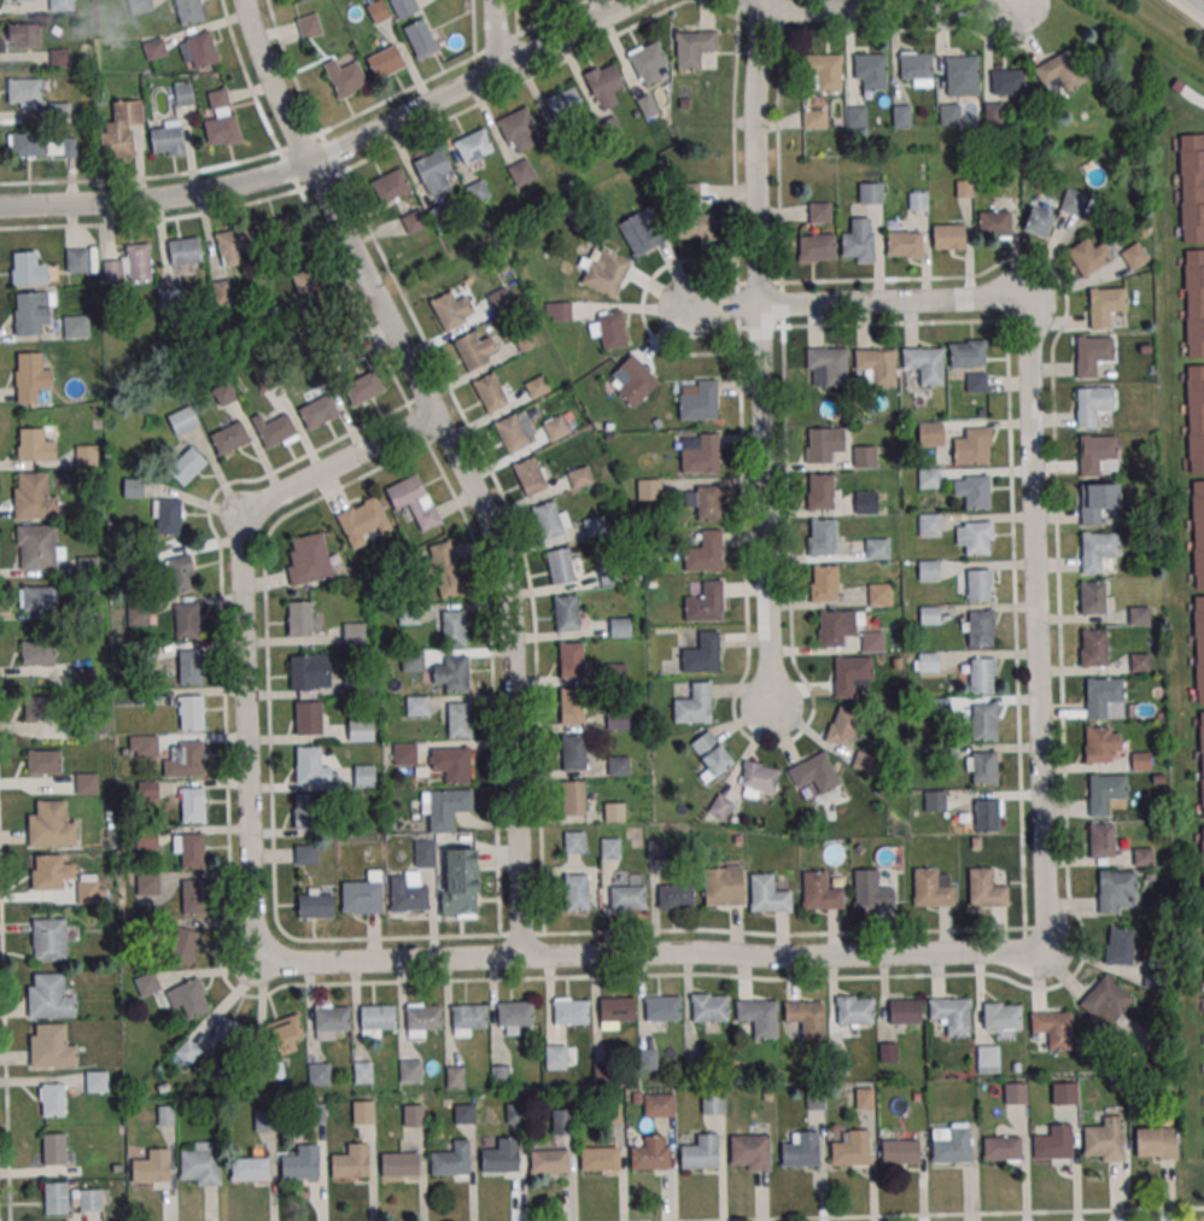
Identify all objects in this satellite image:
building: (19, 0)
road: (1200, 1)
building: (60, 5)
road: (744, 5)
building: (140, 6)
building: (403, 7)
building: (189, 11)
building: (378, 11)
road: (883, 11)
building: (309, 25)
building: (22, 34)
road: (490, 35)
building: (420, 39)
building: (692, 47)
building: (154, 48)
building: (198, 51)
building: (59, 58)
building: (385, 62)
building: (647, 62)
building: (916, 69)
building: (869, 71)
building: (1060, 71)
building: (822, 72)
building: (962, 74)
building: (345, 77)
building: (1006, 81)
building: (603, 84)
building: (25, 90)
building: (183, 93)
building: (563, 104)
building: (60, 111)
building: (948, 113)
building: (993, 113)
building: (901, 115)
building: (855, 116)
building: (813, 118)
building: (221, 119)
building: (121, 129)
building: (519, 129)
building: (609, 129)
building: (168, 139)
building: (40, 145)
building: (473, 146)
road: (331, 153)
building: (434, 171)
building: (521, 171)
building: (390, 185)
building: (1009, 187)
building: (1191, 187)
building: (477, 189)
building: (870, 193)
building: (917, 199)
building: (1073, 201)
building: (694, 216)
building: (414, 221)
building: (1038, 221)
building: (994, 223)
building: (273, 232)
building: (641, 232)
building: (948, 236)
building: (858, 240)
building: (905, 244)
building: (234, 245)
building: (817, 247)
building: (185, 251)
building: (1088, 256)
building: (1134, 256)
building: (77, 261)
building: (129, 264)
building: (28, 269)
building: (604, 271)
building: (304, 280)
building: (222, 291)
building: (170, 298)
road: (890, 302)
building: (1193, 302)
road: (719, 306)
building: (1105, 306)
building: (450, 309)
building: (31, 311)
building: (557, 311)
building: (76, 327)
building: (609, 329)
building: (527, 343)
building: (475, 350)
road: (761, 354)
building: (968, 354)
building: (1092, 354)
building: (925, 364)
building: (877, 366)
building: (826, 367)
building: (30, 376)
building: (631, 380)
building: (976, 381)
building: (536, 386)
building: (363, 388)
building: (490, 392)
building: (223, 393)
building: (697, 399)
building: (1093, 404)
building: (317, 410)
building: (1194, 417)
building: (182, 420)
building: (555, 427)
building: (274, 430)
building: (510, 433)
building: (930, 433)
building: (229, 437)
building: (36, 443)
building: (824, 443)
building: (972, 446)
building: (699, 452)
building: (86, 455)
building: (864, 456)
building: (1099, 456)
road: (458, 457)
building: (186, 465)
building: (530, 475)
building: (579, 477)
building: (929, 478)
building: (133, 487)
building: (648, 489)
building: (972, 490)
building: (820, 491)
building: (34, 497)
building: (414, 501)
building: (707, 501)
building: (865, 502)
building: (1097, 502)
building: (168, 516)
building: (364, 520)
building: (550, 520)
building: (929, 525)
building: (595, 526)
building: (1198, 531)
building: (820, 537)
building: (974, 538)
building: (37, 548)
building: (876, 548)
building: (1098, 550)
building: (703, 551)
building: (309, 559)
building: (87, 566)
building: (561, 566)
building: (445, 569)
building: (928, 569)
building: (181, 573)
building: (823, 583)
building: (977, 584)
building: (879, 594)
building: (1093, 597)
building: (37, 598)
building: (705, 602)
building: (566, 612)
building: (138, 615)
building: (929, 615)
building: (299, 618)
building: (187, 620)
road: (1038, 625)
building: (836, 626)
road: (244, 627)
building: (452, 627)
building: (977, 627)
building: (353, 632)
building: (872, 641)
building: (1199, 645)
building: (1093, 647)
building: (37, 653)
building: (701, 653)
building: (573, 660)
building: (413, 661)
building: (925, 661)
building: (1139, 661)
building: (191, 666)
building: (452, 672)
building: (310, 673)
building: (851, 674)
building: (982, 674)
building: (1104, 697)
building: (691, 701)
building: (417, 705)
building: (572, 705)
building: (42, 708)
building: (191, 712)
building: (308, 717)
building: (458, 719)
building: (618, 719)
building: (983, 720)
building: (842, 726)
building: (89, 728)
building: (361, 730)
building: (1101, 743)
building: (144, 746)
building: (573, 752)
building: (404, 753)
building: (711, 755)
building: (1202, 756)
building: (185, 759)
building: (863, 760)
building: (1140, 760)
building: (45, 761)
building: (451, 763)
building: (311, 765)
building: (618, 765)
building: (981, 767)
building: (814, 773)
building: (364, 776)
building: (758, 779)
building: (87, 783)
building: (1107, 794)
building: (573, 796)
building: (934, 800)
building: (192, 804)
building: (719, 806)
building: (445, 807)
building: (305, 812)
building: (614, 812)
building: (987, 816)
building: (51, 824)
building: (1101, 840)
building: (574, 841)
building: (609, 847)
building: (654, 848)
building: (305, 853)
building: (425, 853)
building: (1141, 855)
building: (1203, 861)
building: (48, 871)
building: (461, 882)
building: (147, 883)
building: (724, 887)
building: (92, 889)
building: (577, 892)
building: (627, 892)
building: (871, 892)
building: (931, 892)
building: (987, 892)
building: (1118, 892)
building: (408, 893)
building: (363, 894)
building: (820, 894)
building: (676, 895)
building: (767, 895)
building: (193, 896)
building: (315, 904)
building: (51, 939)
building: (183, 946)
building: (1120, 946)
road: (653, 953)
building: (147, 983)
building: (49, 995)
building: (188, 997)
building: (709, 1006)
building: (662, 1007)
building: (1110, 1007)
building: (615, 1009)
building: (571, 1011)
building: (854, 1011)
building: (904, 1011)
building: (951, 1015)
building: (514, 1016)
building: (759, 1016)
building: (807, 1017)
building: (469, 1018)
building: (1003, 1018)
building: (378, 1020)
building: (422, 1020)
building: (331, 1021)
building: (1051, 1030)
building: (229, 1032)
building: (284, 1034)
building: (51, 1046)
building: (187, 1051)
building: (560, 1057)
building: (987, 1058)
building: (649, 1059)
building: (410, 1070)
building: (363, 1071)
building: (318, 1073)
building: (501, 1075)
building: (455, 1076)
building: (97, 1080)
building: (1015, 1093)
building: (1064, 1096)
building: (864, 1098)
building: (52, 1099)
building: (712, 1100)
building: (656, 1104)
building: (362, 1111)
building: (463, 1112)
building: (513, 1112)
building: (413, 1115)
building: (263, 1120)
building: (562, 1121)
building: (1104, 1138)
building: (1053, 1143)
building: (1156, 1143)
building: (951, 1144)
building: (1001, 1147)
building: (54, 1149)
building: (899, 1150)
building: (749, 1151)
building: (700, 1152)
building: (849, 1152)
building: (800, 1155)
building: (598, 1157)
building: (649, 1158)
building: (499, 1159)
building: (351, 1161)
building: (449, 1161)
building: (549, 1161)
building: (302, 1162)
building: (399, 1162)
building: (200, 1165)
building: (152, 1167)
building: (250, 1169)
building: (55, 1197)

